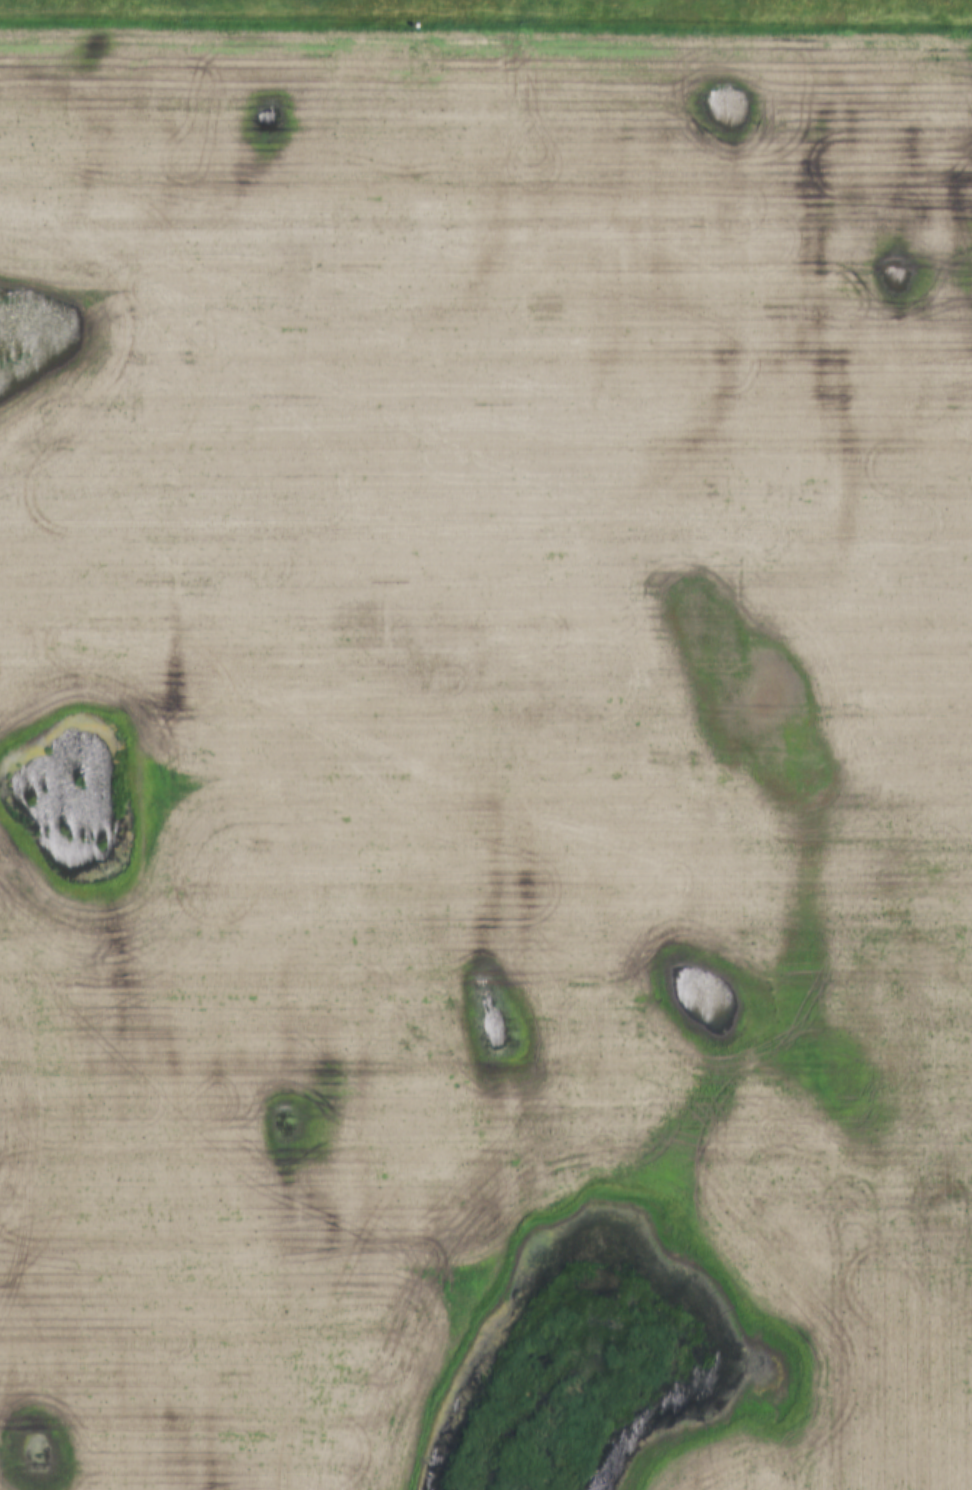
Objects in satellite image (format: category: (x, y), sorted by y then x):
road: (486, 31)

